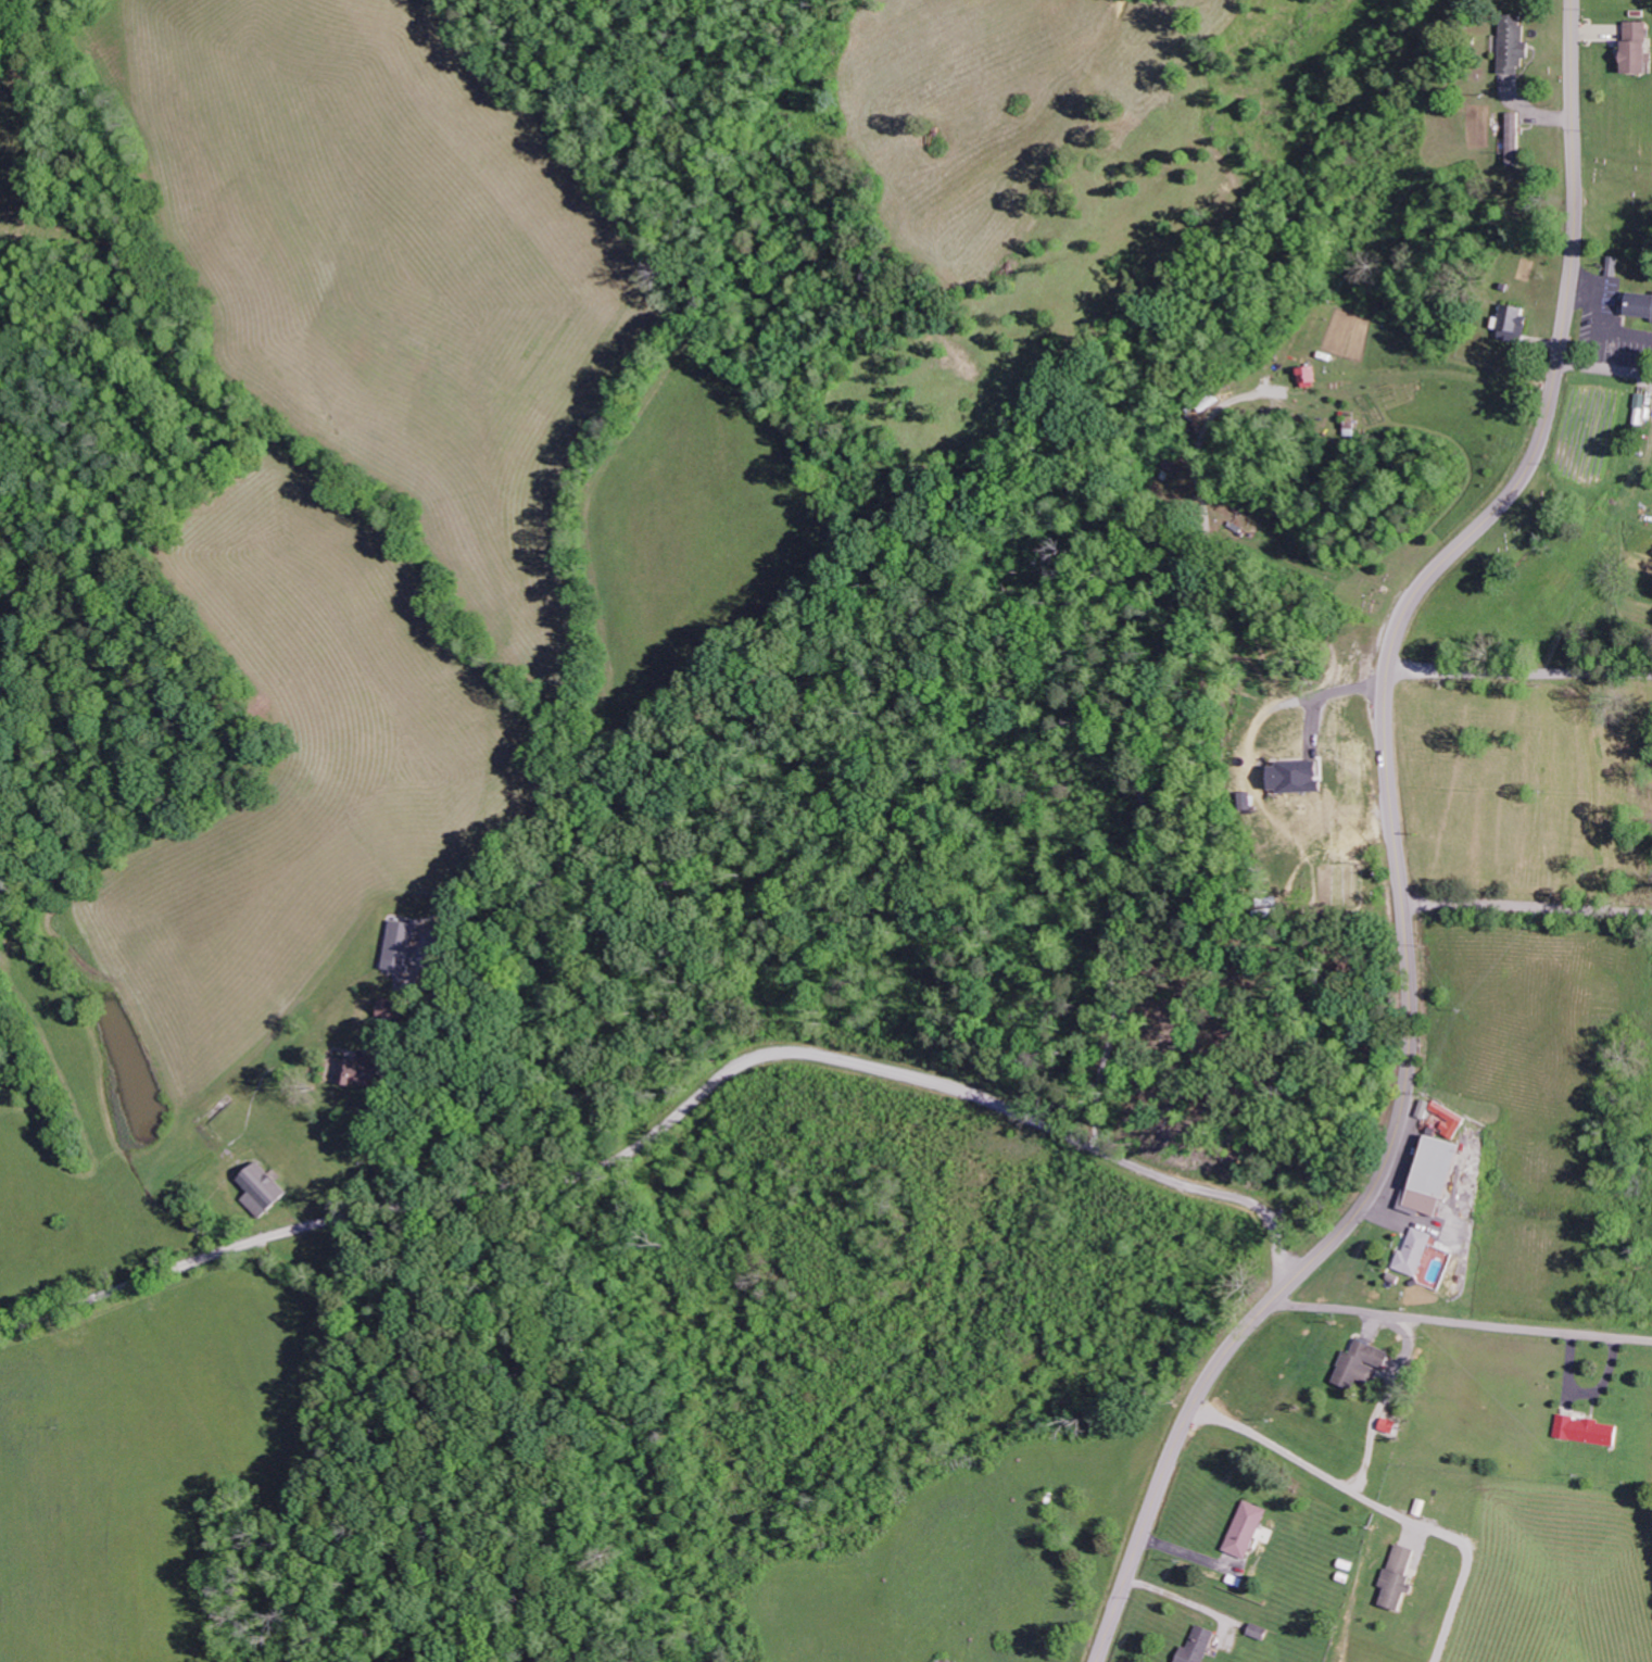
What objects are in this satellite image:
building: (1639, 48)
building: (1515, 49)
building: (1614, 265)
building: (1640, 304)
building: (1515, 322)
road: (1604, 369)
building: (1311, 374)
building: (1640, 405)
road: (1519, 676)
building: (1298, 777)
road: (1397, 849)
road: (1527, 909)
building: (405, 947)
building: (394, 1009)
building: (2, 1071)
road: (671, 1112)
building: (1459, 1118)
building: (1438, 1175)
building: (264, 1189)
building: (1416, 1252)
road: (1462, 1324)
building: (1364, 1364)
building: (1586, 1431)
building: (1248, 1529)
building: (1399, 1577)
building: (1199, 1646)

